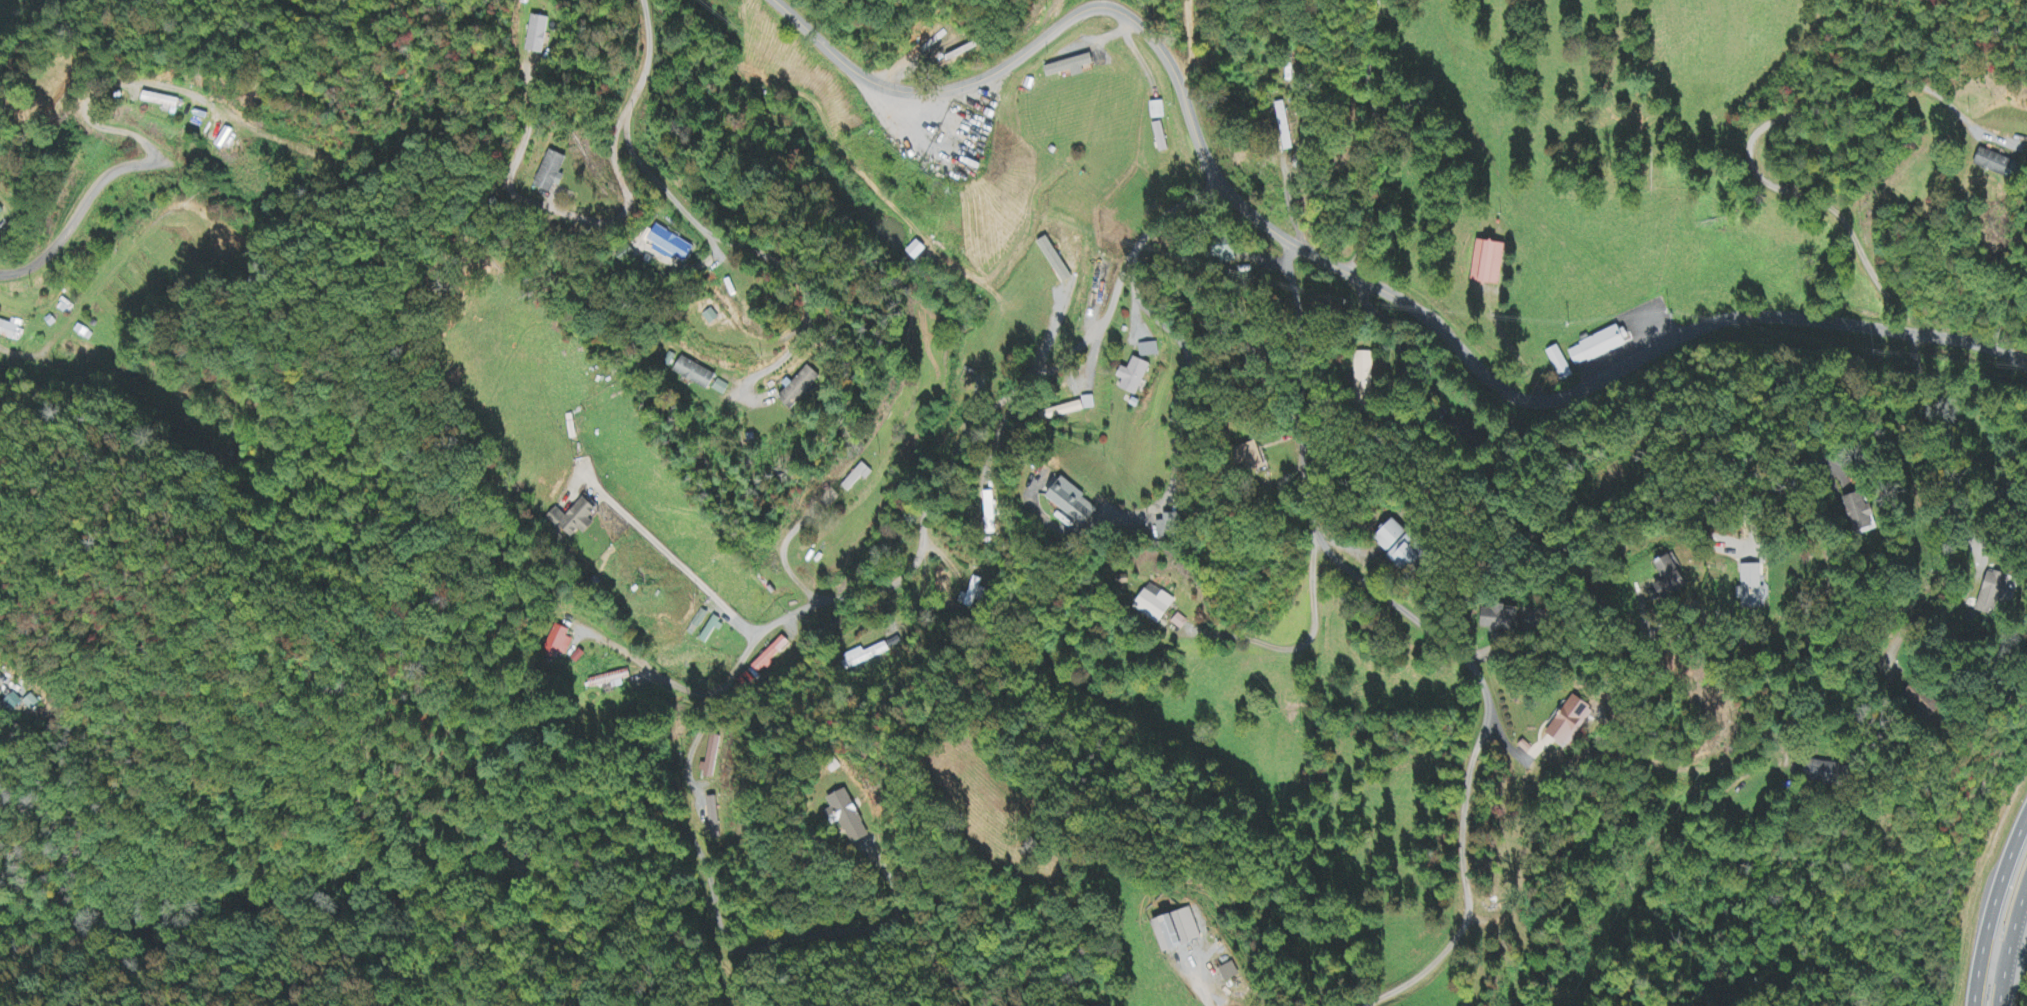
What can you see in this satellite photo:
building: (556, 38)
building: (1070, 67)
building: (1157, 111)
building: (1282, 119)
road: (119, 130)
road: (1286, 134)
building: (1160, 138)
building: (1990, 164)
building: (554, 173)
building: (2, 212)
building: (672, 246)
building: (1234, 253)
building: (1493, 262)
road: (1337, 268)
building: (12, 331)
building: (83, 333)
building: (1600, 340)
road: (1400, 343)
building: (1148, 351)
road: (20, 355)
building: (1560, 365)
building: (694, 374)
building: (1135, 377)
building: (801, 387)
road: (1921, 407)
building: (1069, 409)
road: (952, 467)
building: (1077, 502)
road: (1643, 506)
building: (988, 508)
building: (1858, 514)
building: (572, 519)
road: (1314, 521)
building: (1170, 528)
building: (1406, 547)
road: (673, 554)
building: (1672, 578)
road: (1945, 580)
building: (1753, 588)
building: (1989, 595)
building: (972, 596)
building: (1157, 605)
building: (1511, 622)
building: (698, 623)
building: (556, 643)
road: (1551, 650)
building: (771, 655)
building: (864, 656)
building: (609, 681)
building: (15, 702)
building: (31, 703)
building: (1578, 721)
road: (1508, 744)
road: (1706, 768)
building: (1825, 771)
building: (846, 817)
road: (1464, 888)
road: (283, 898)
road: (1992, 905)
road: (1998, 909)
building: (1182, 932)
road: (2008, 939)
road: (456, 940)
building: (1233, 973)

